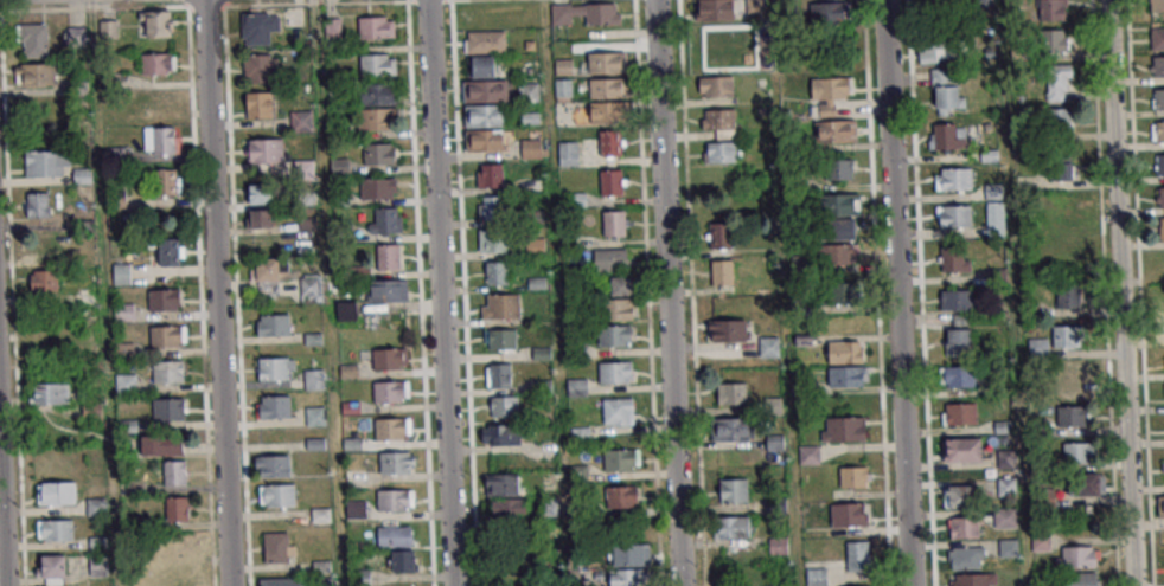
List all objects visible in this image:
building: (936, 6)
building: (1157, 6)
building: (716, 9)
building: (1053, 9)
building: (586, 13)
building: (826, 13)
building: (158, 24)
building: (376, 26)
building: (258, 30)
building: (34, 40)
building: (1054, 40)
building: (1157, 40)
building: (486, 43)
building: (939, 51)
building: (158, 63)
building: (606, 63)
building: (378, 64)
building: (260, 67)
building: (1158, 67)
building: (36, 73)
building: (1059, 82)
building: (716, 86)
building: (606, 88)
building: (529, 90)
building: (564, 90)
building: (946, 91)
building: (379, 92)
building: (485, 92)
building: (829, 92)
building: (1159, 101)
building: (260, 105)
building: (607, 114)
building: (484, 117)
building: (376, 120)
building: (1059, 121)
building: (719, 122)
building: (836, 130)
building: (1159, 133)
building: (947, 135)
building: (160, 140)
building: (485, 142)
building: (610, 142)
building: (531, 148)
building: (264, 152)
building: (721, 152)
building: (568, 153)
building: (378, 155)
building: (47, 162)
building: (339, 166)
building: (1060, 166)
building: (1160, 166)
building: (839, 169)
building: (491, 175)
building: (953, 179)
building: (165, 181)
building: (612, 181)
building: (376, 188)
building: (993, 191)
building: (260, 194)
building: (576, 199)
building: (1162, 199)
building: (839, 204)
building: (38, 205)
building: (1062, 205)
building: (491, 207)
building: (953, 215)
building: (261, 218)
building: (385, 220)
building: (614, 223)
building: (1160, 228)
building: (722, 236)
building: (492, 240)
building: (578, 240)
building: (837, 242)
building: (535, 246)
building: (43, 247)
building: (171, 251)
building: (389, 257)
building: (954, 258)
building: (610, 259)
building: (270, 269)
building: (497, 272)
building: (722, 272)
building: (121, 273)
building: (41, 281)
building: (621, 285)
building: (312, 289)
building: (388, 290)
building: (838, 291)
road: (216, 292)
road: (440, 292)
road: (669, 292)
road: (896, 292)
road: (1013, 292)
road: (1119, 292)
building: (1070, 296)
building: (957, 300)
building: (162, 301)
building: (500, 305)
building: (618, 309)
building: (346, 310)
building: (124, 311)
building: (275, 327)
building: (728, 331)
building: (614, 335)
building: (1066, 335)
building: (165, 339)
building: (500, 339)
building: (958, 341)
building: (768, 347)
building: (845, 350)
building: (389, 360)
building: (274, 371)
building: (615, 372)
building: (167, 373)
building: (499, 374)
building: (845, 375)
building: (957, 376)
building: (1072, 376)
building: (314, 379)
building: (126, 384)
building: (576, 387)
building: (52, 393)
building: (390, 393)
building: (731, 393)
building: (274, 406)
building: (504, 406)
building: (168, 411)
building: (619, 411)
building: (959, 413)
building: (92, 414)
building: (315, 416)
building: (1073, 416)
building: (843, 427)
building: (733, 429)
building: (392, 430)
building: (501, 434)
building: (162, 446)
building: (961, 449)
building: (1077, 452)
building: (810, 455)
building: (621, 459)
building: (273, 465)
building: (395, 465)
building: (1163, 471)
building: (174, 472)
building: (853, 476)
building: (503, 483)
building: (1085, 483)
building: (734, 490)
building: (56, 492)
building: (277, 495)
building: (960, 495)
building: (622, 496)
building: (394, 502)
building: (1160, 505)
building: (177, 508)
building: (356, 508)
building: (509, 509)
building: (849, 514)
road: (2, 516)
building: (1006, 517)
building: (733, 527)
building: (964, 527)
building: (55, 529)
building: (394, 537)
building: (778, 545)
building: (279, 547)
building: (1008, 547)
building: (631, 555)
building: (858, 555)
building: (519, 556)
building: (966, 556)
building: (1081, 556)
building: (404, 560)
building: (53, 568)
building: (817, 577)
building: (627, 578)
building: (1081, 579)
building: (972, 580)
building: (282, 581)

